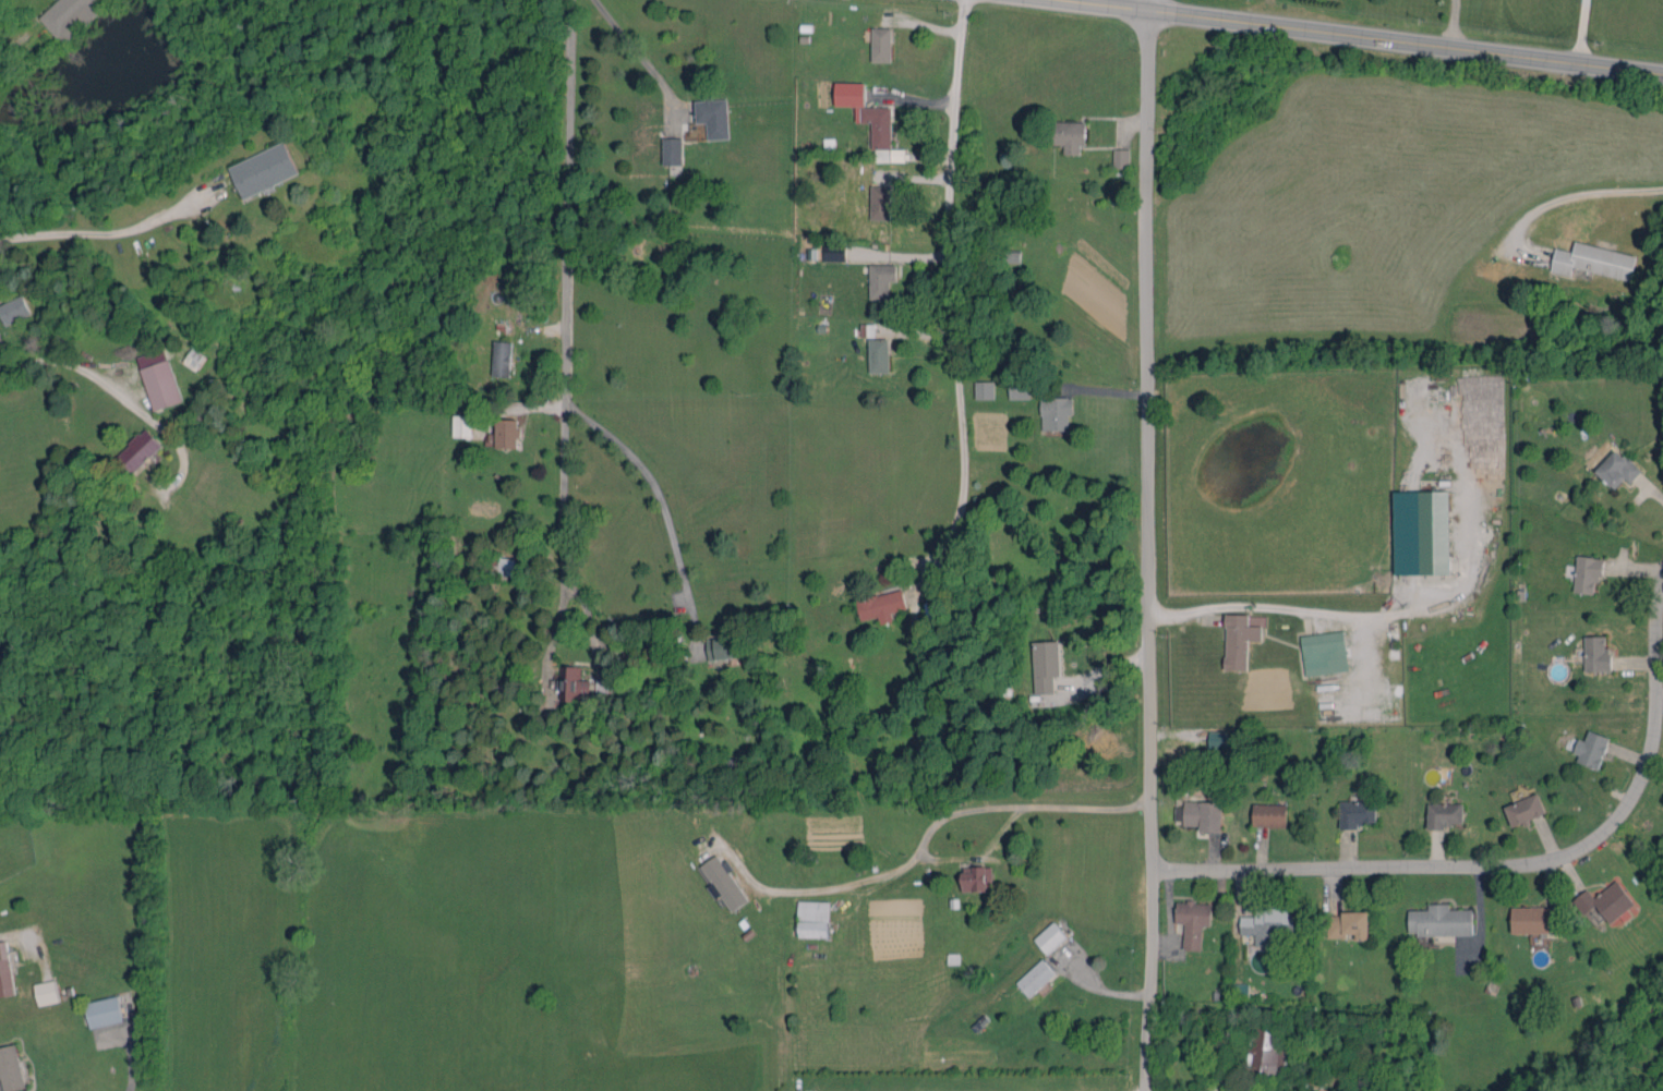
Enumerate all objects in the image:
road: (1118, 3)
road: (1146, 3)
building: (69, 16)
road: (1451, 21)
road: (1578, 29)
road: (1405, 36)
building: (881, 44)
road: (640, 52)
building: (866, 112)
building: (713, 117)
building: (1070, 135)
building: (671, 150)
building: (897, 155)
building: (1121, 158)
building: (263, 170)
road: (1564, 195)
building: (880, 202)
road: (568, 204)
road: (111, 231)
building: (834, 252)
building: (1594, 260)
building: (881, 280)
road: (949, 280)
building: (13, 310)
building: (879, 355)
building: (501, 357)
building: (195, 359)
building: (158, 379)
building: (985, 389)
building: (1019, 389)
road: (116, 397)
building: (1057, 413)
building: (461, 425)
building: (504, 434)
building: (137, 451)
building: (1617, 469)
road: (664, 507)
building: (1421, 532)
road: (564, 534)
road: (1149, 548)
building: (503, 565)
building: (1588, 572)
building: (881, 605)
road: (1281, 609)
building: (936, 610)
building: (1239, 640)
building: (725, 647)
building: (1324, 653)
building: (1596, 654)
building: (1046, 665)
building: (571, 683)
building: (1217, 739)
building: (1591, 750)
building: (1525, 809)
building: (1357, 813)
building: (1200, 814)
building: (1269, 814)
building: (1445, 814)
road: (924, 839)
building: (1661, 847)
road: (1506, 865)
building: (977, 878)
building: (723, 882)
building: (1606, 901)
building: (814, 919)
building: (1534, 919)
building: (1193, 921)
building: (1439, 921)
building: (1348, 924)
building: (1268, 925)
building: (1049, 937)
building: (1036, 978)
building: (46, 992)
building: (104, 1011)
building: (1265, 1053)
building: (1269, 1088)

